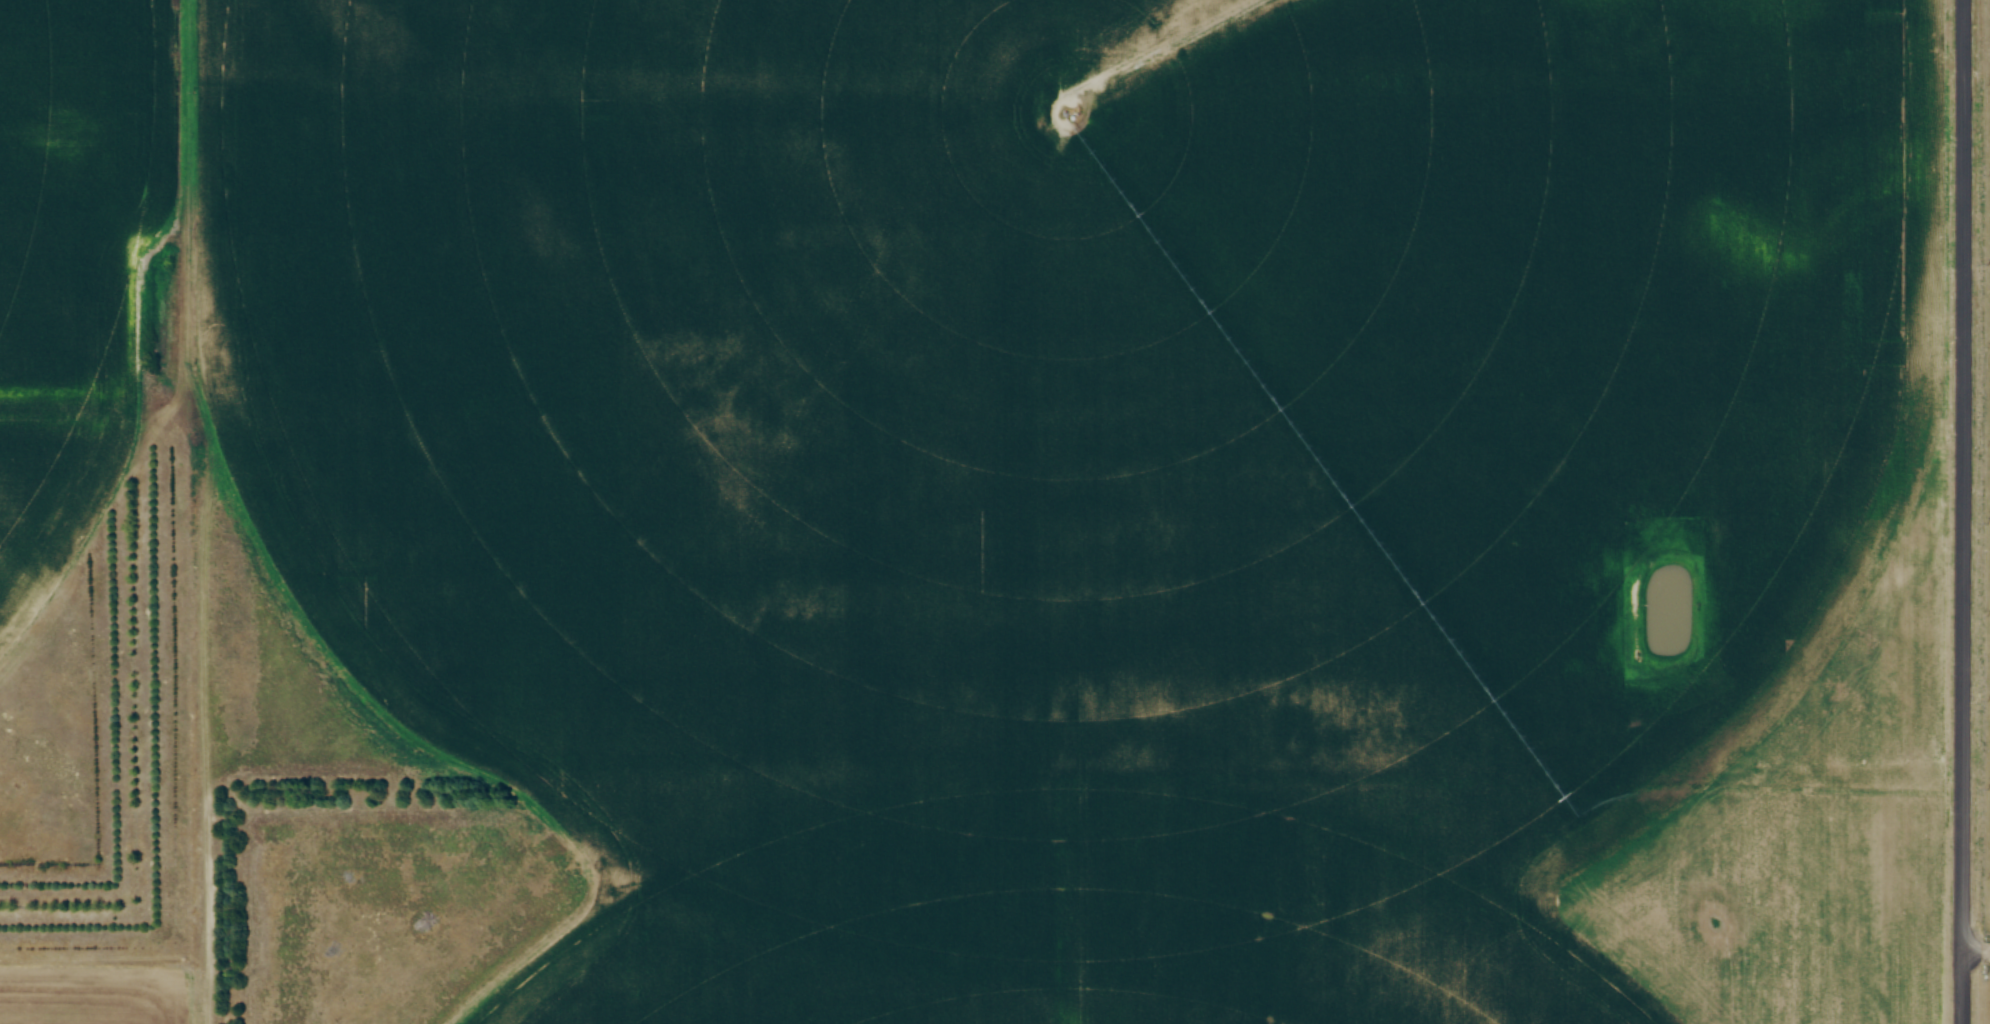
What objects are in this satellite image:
road: (1963, 511)
road: (1975, 953)

